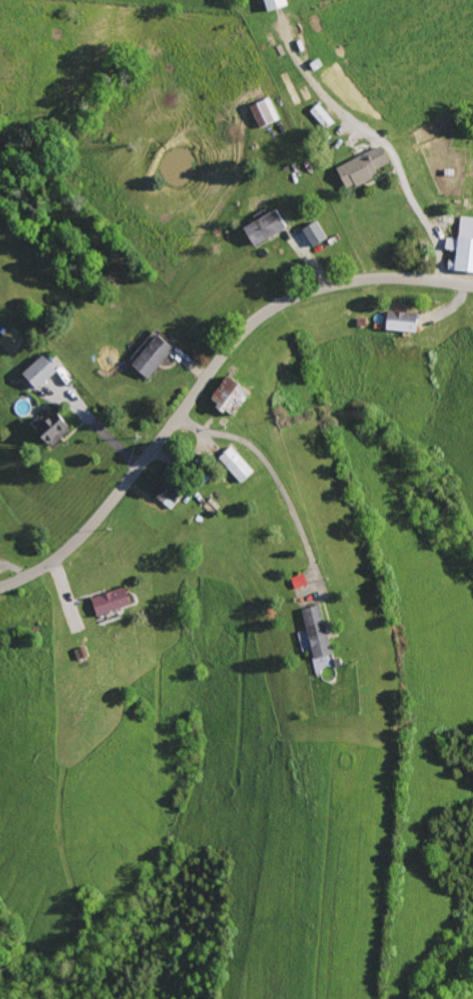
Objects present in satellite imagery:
building: (270, 4)
building: (261, 113)
building: (318, 116)
building: (359, 167)
road: (410, 180)
building: (261, 227)
building: (461, 247)
building: (397, 322)
building: (147, 356)
building: (34, 371)
road: (208, 376)
building: (224, 395)
road: (97, 426)
building: (48, 428)
building: (232, 464)
building: (161, 494)
building: (296, 581)
building: (105, 601)
building: (313, 631)

